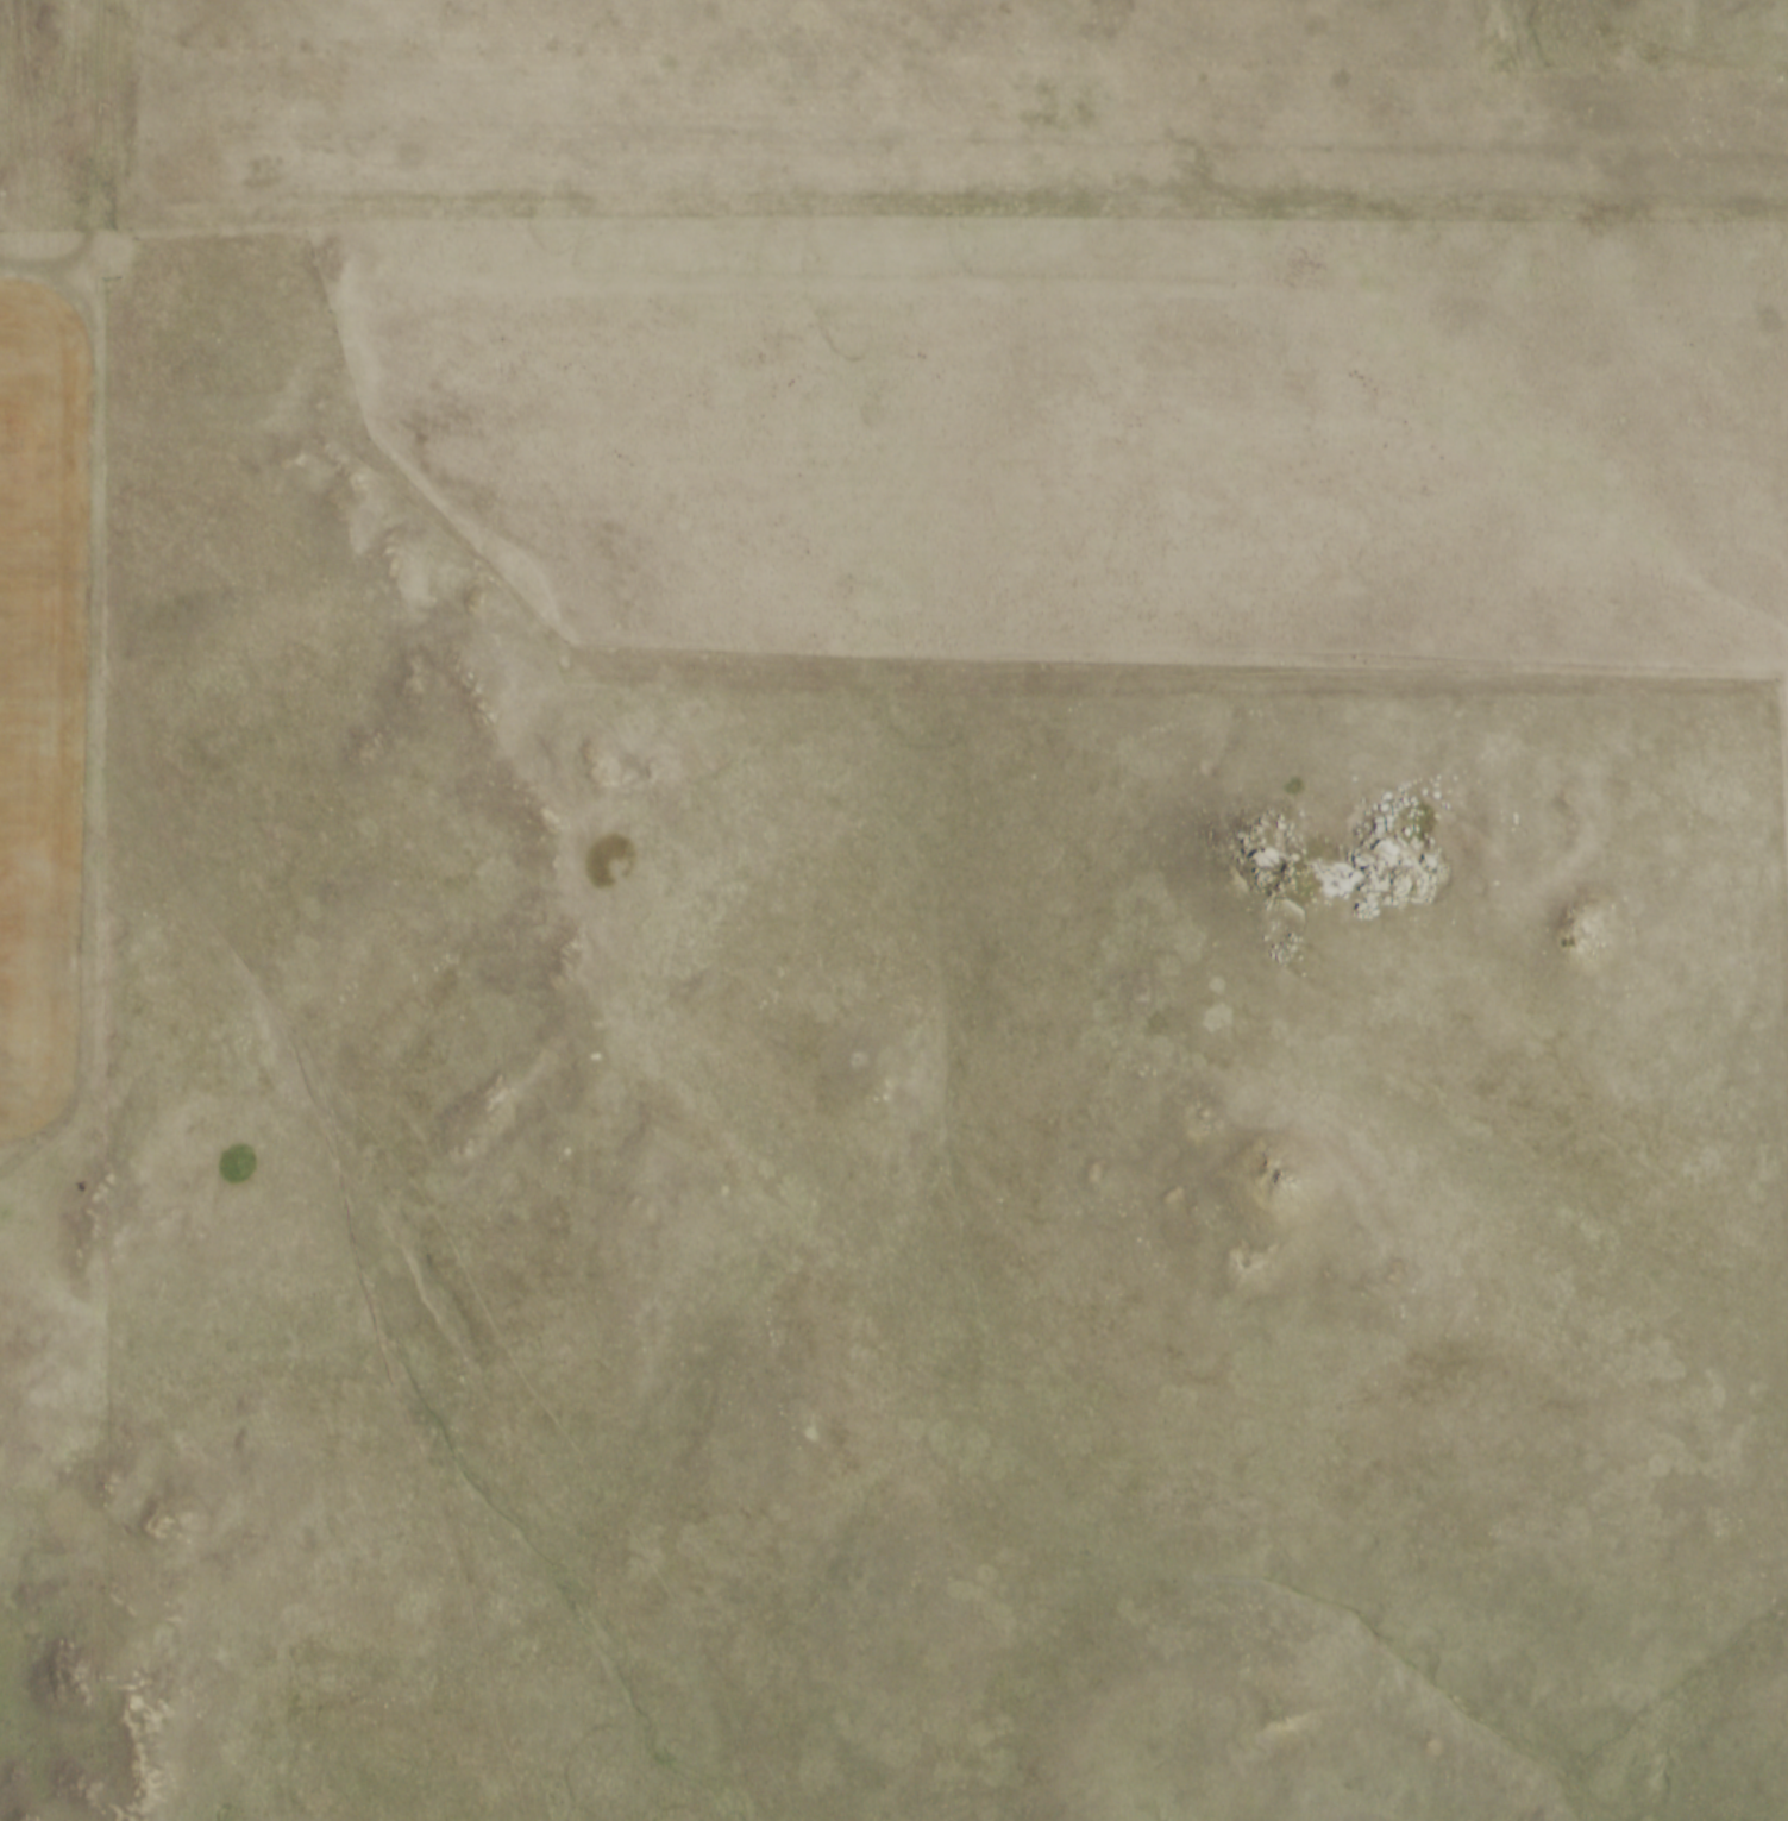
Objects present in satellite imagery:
road: (101, 126)
road: (43, 264)

